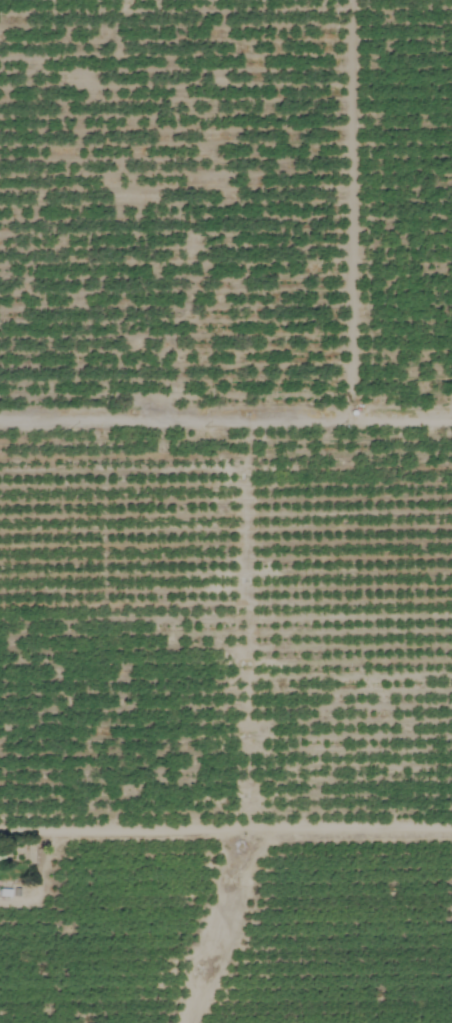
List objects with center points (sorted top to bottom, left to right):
road: (225, 422)
building: (23, 889)

